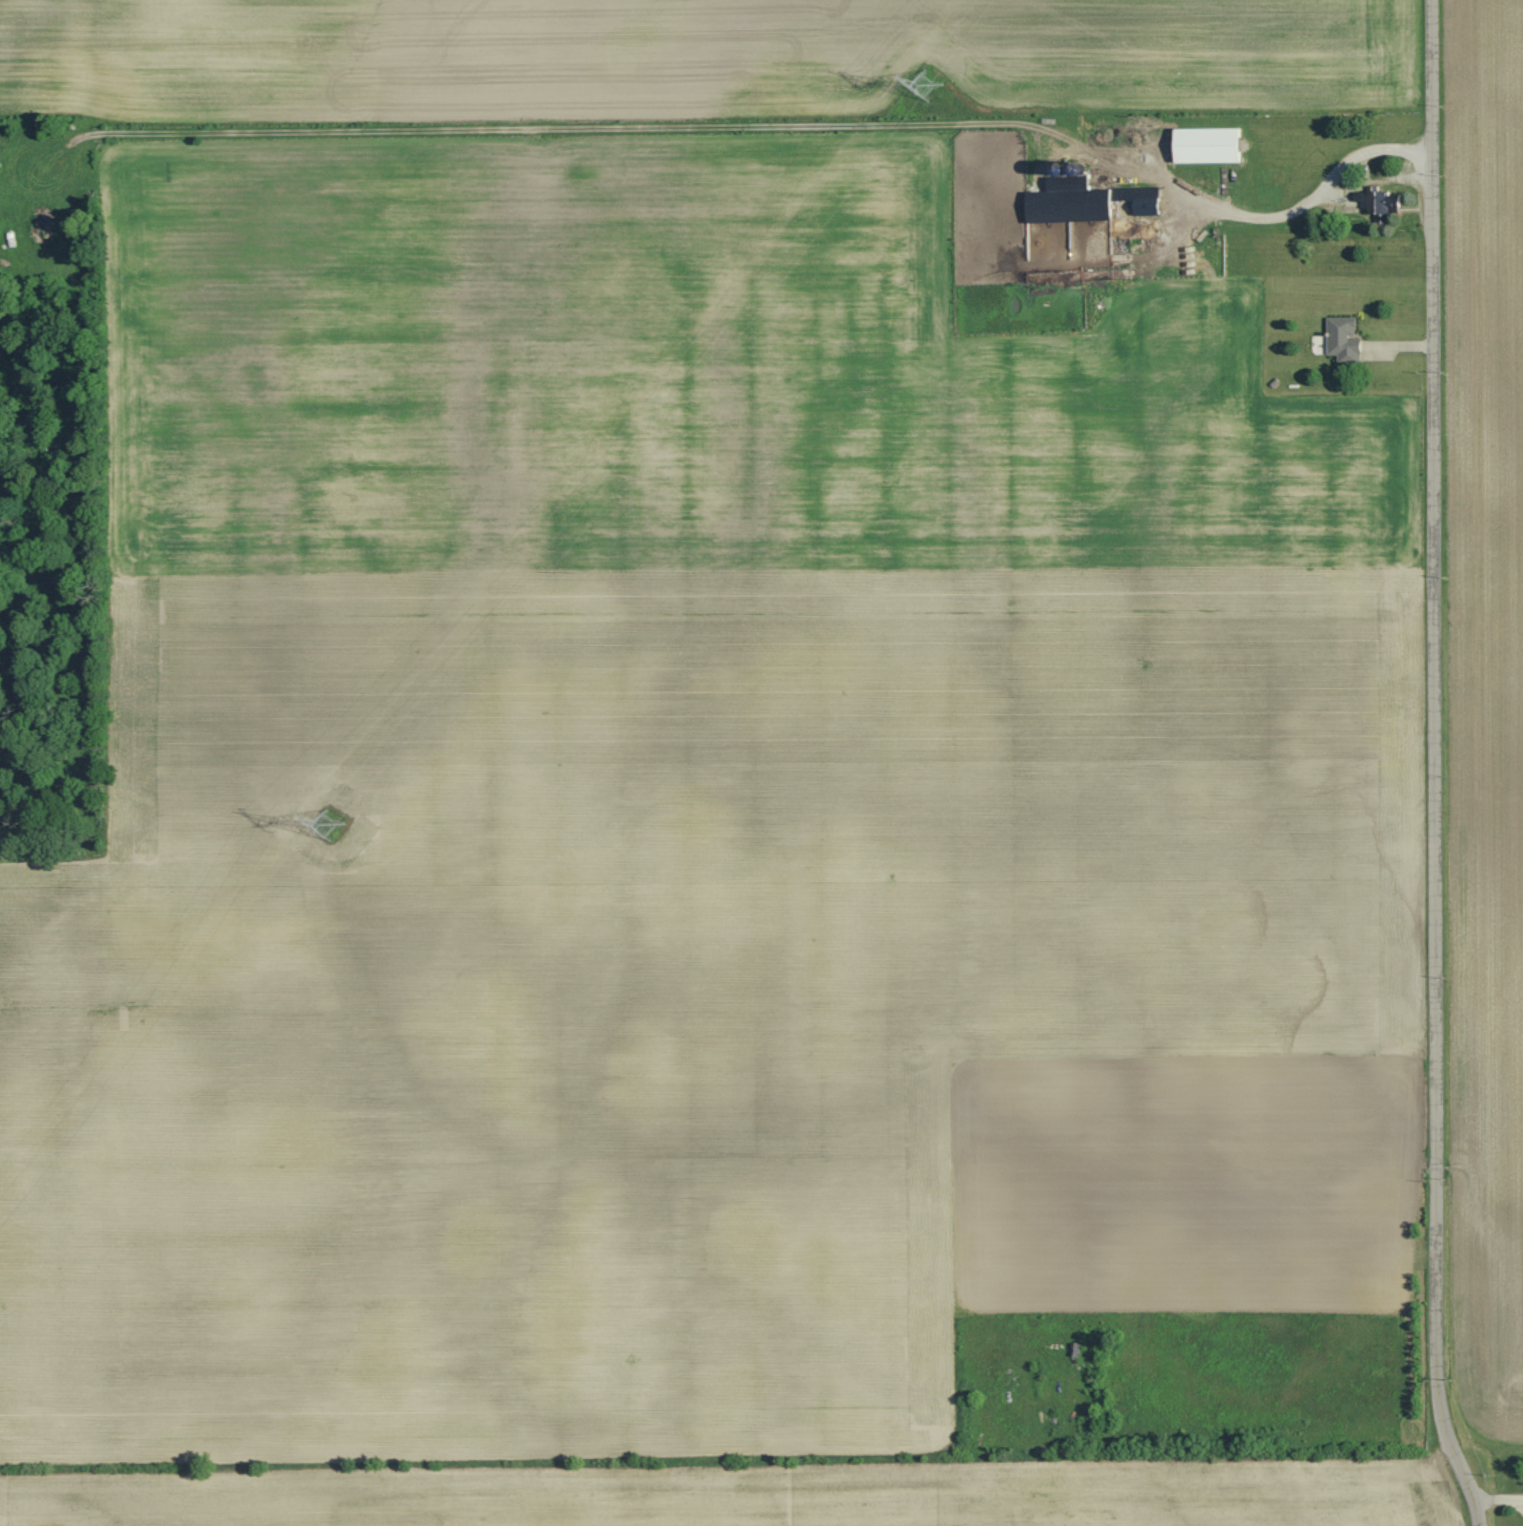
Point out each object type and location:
power tower: (923, 86)
building: (1207, 144)
building: (1085, 200)
building: (1378, 202)
road: (1287, 215)
building: (1344, 339)
road: (1433, 745)
power tower: (324, 824)
road: (1474, 1505)

